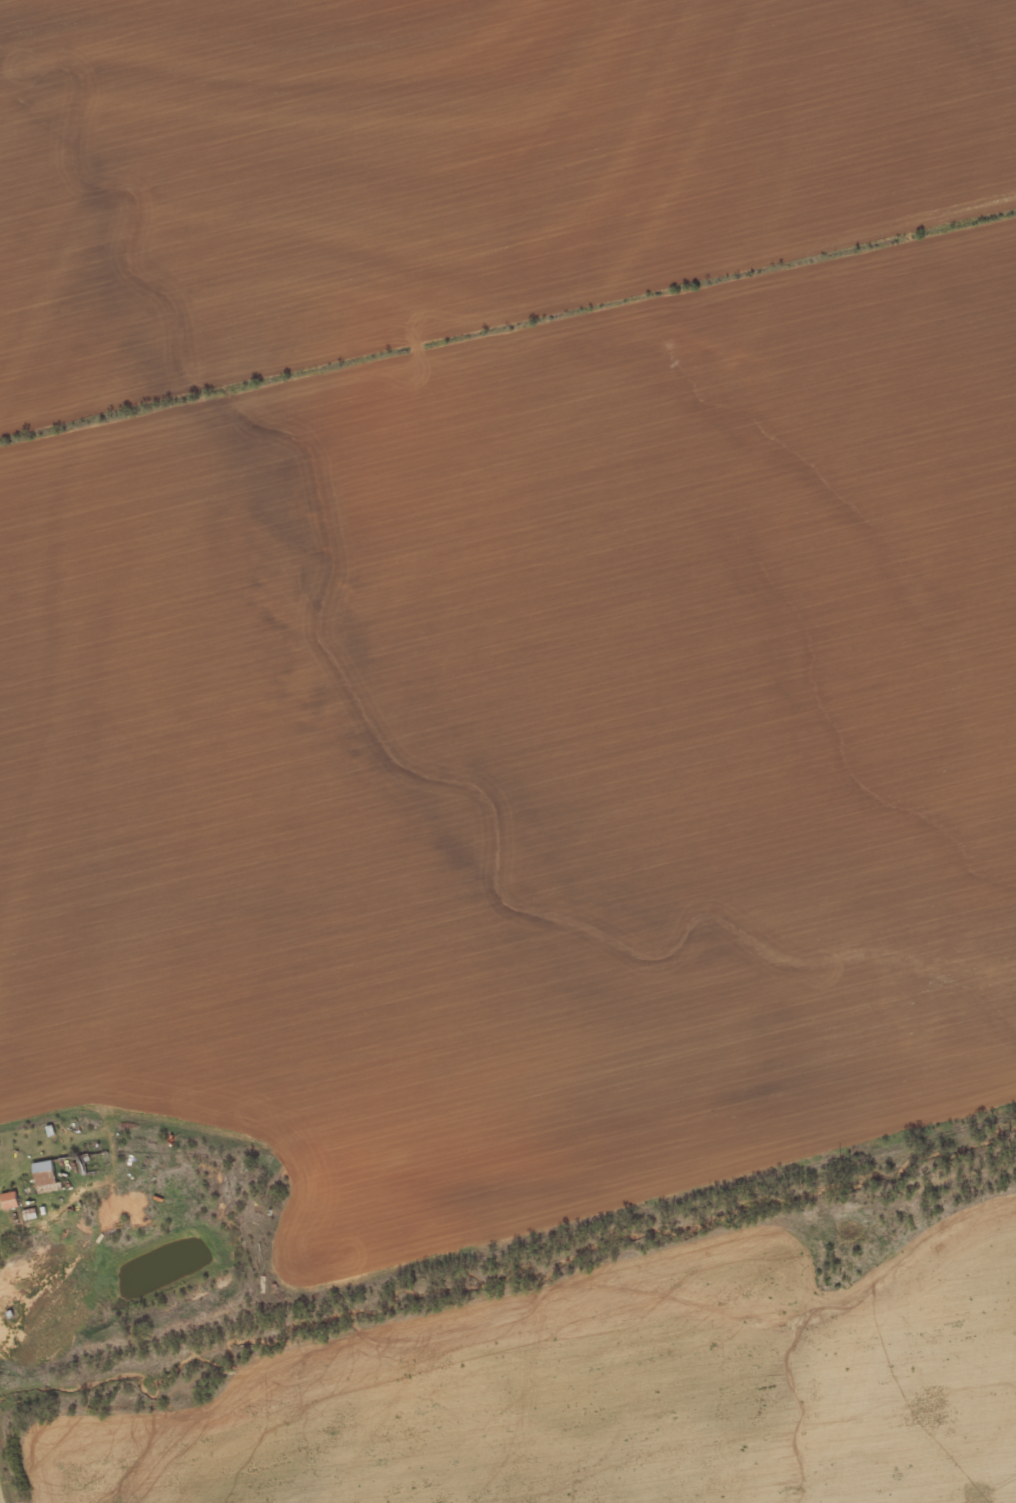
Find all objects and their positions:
building: (43, 1180)
building: (9, 1207)
road: (1, 1498)

